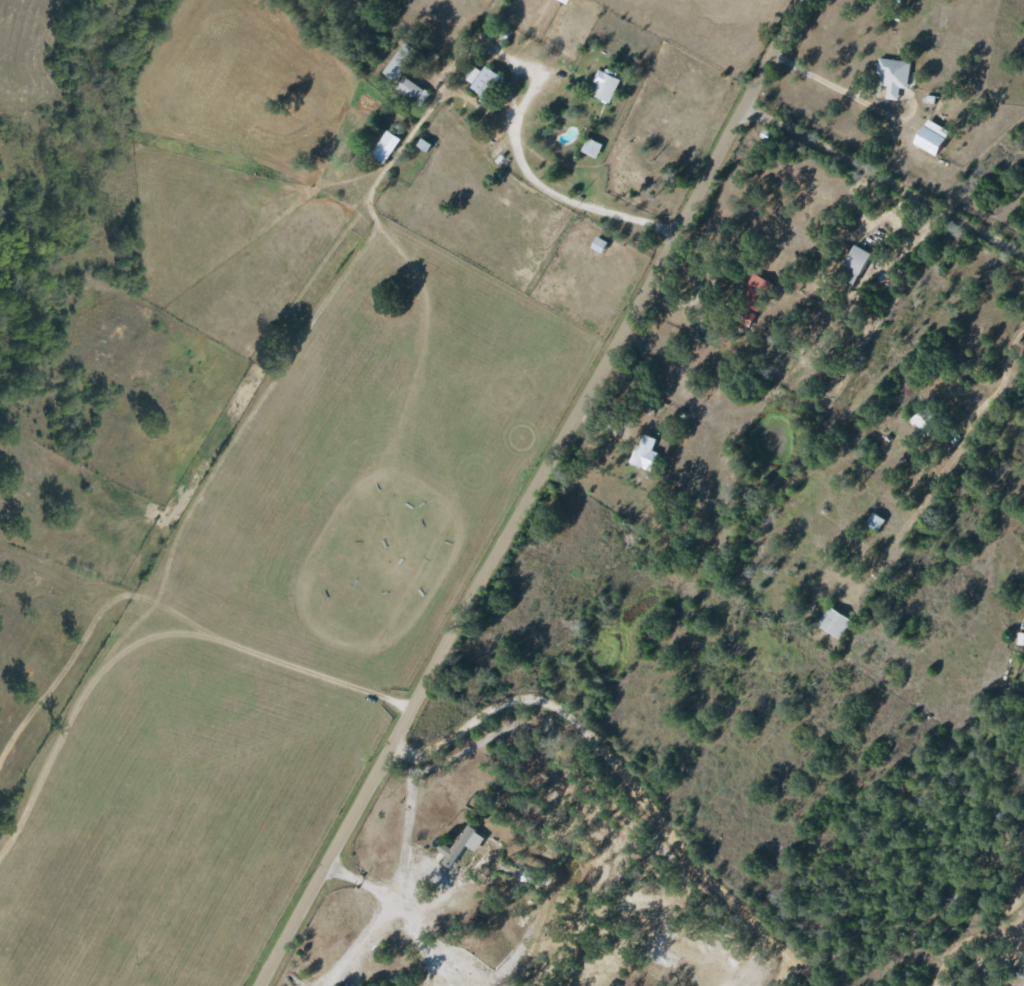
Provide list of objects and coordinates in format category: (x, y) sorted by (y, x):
building: (563, 1)
building: (398, 61)
building: (892, 75)
building: (483, 82)
road: (835, 83)
building: (603, 85)
building: (411, 91)
road: (428, 109)
building: (927, 137)
building: (422, 144)
building: (383, 147)
building: (590, 147)
road: (884, 182)
road: (563, 194)
building: (597, 244)
building: (852, 265)
building: (749, 299)
road: (1002, 382)
building: (643, 452)
road: (532, 492)
building: (873, 521)
building: (832, 622)
building: (1020, 638)
road: (627, 777)
building: (459, 846)
road: (161, 927)
road: (780, 971)
road: (1022, 982)
road: (156, 985)

